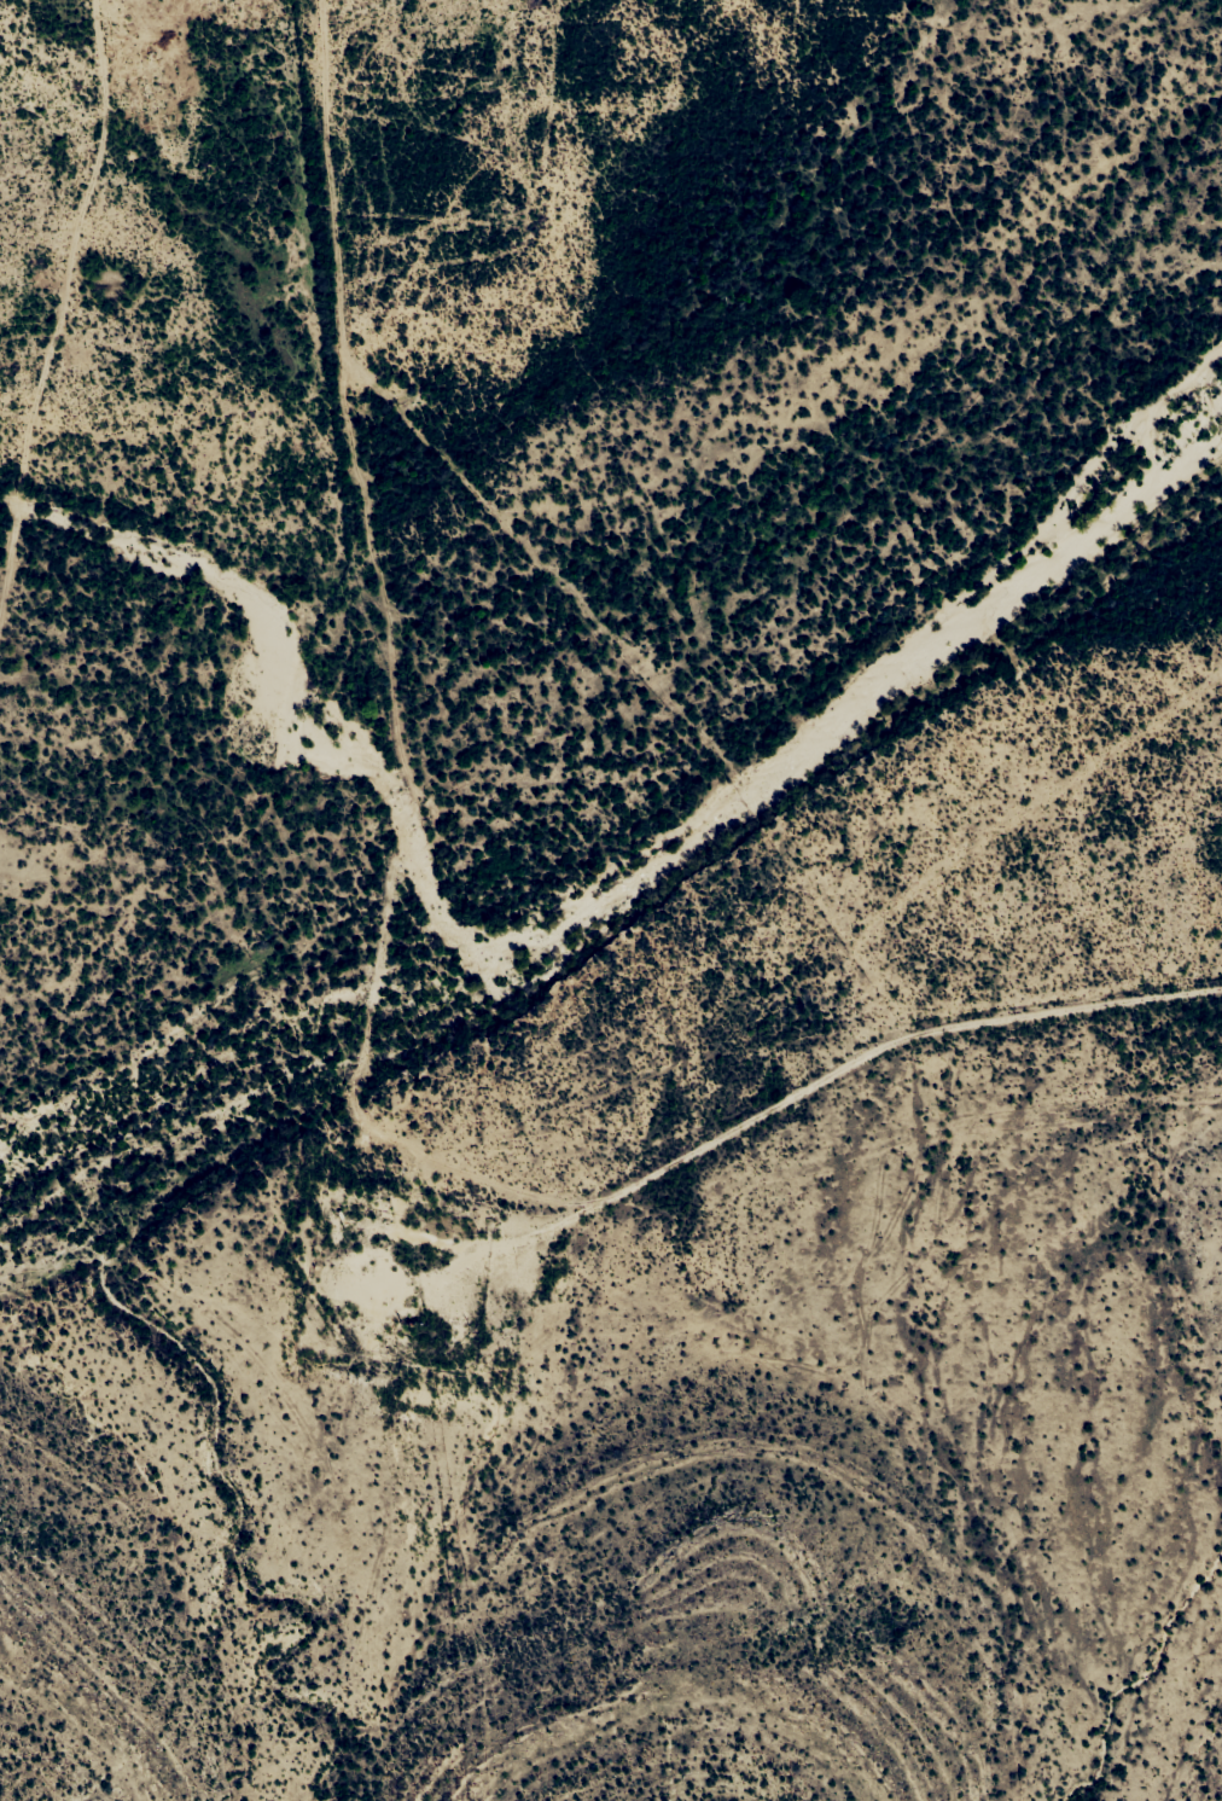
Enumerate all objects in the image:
road: (18, 2)
road: (56, 284)

